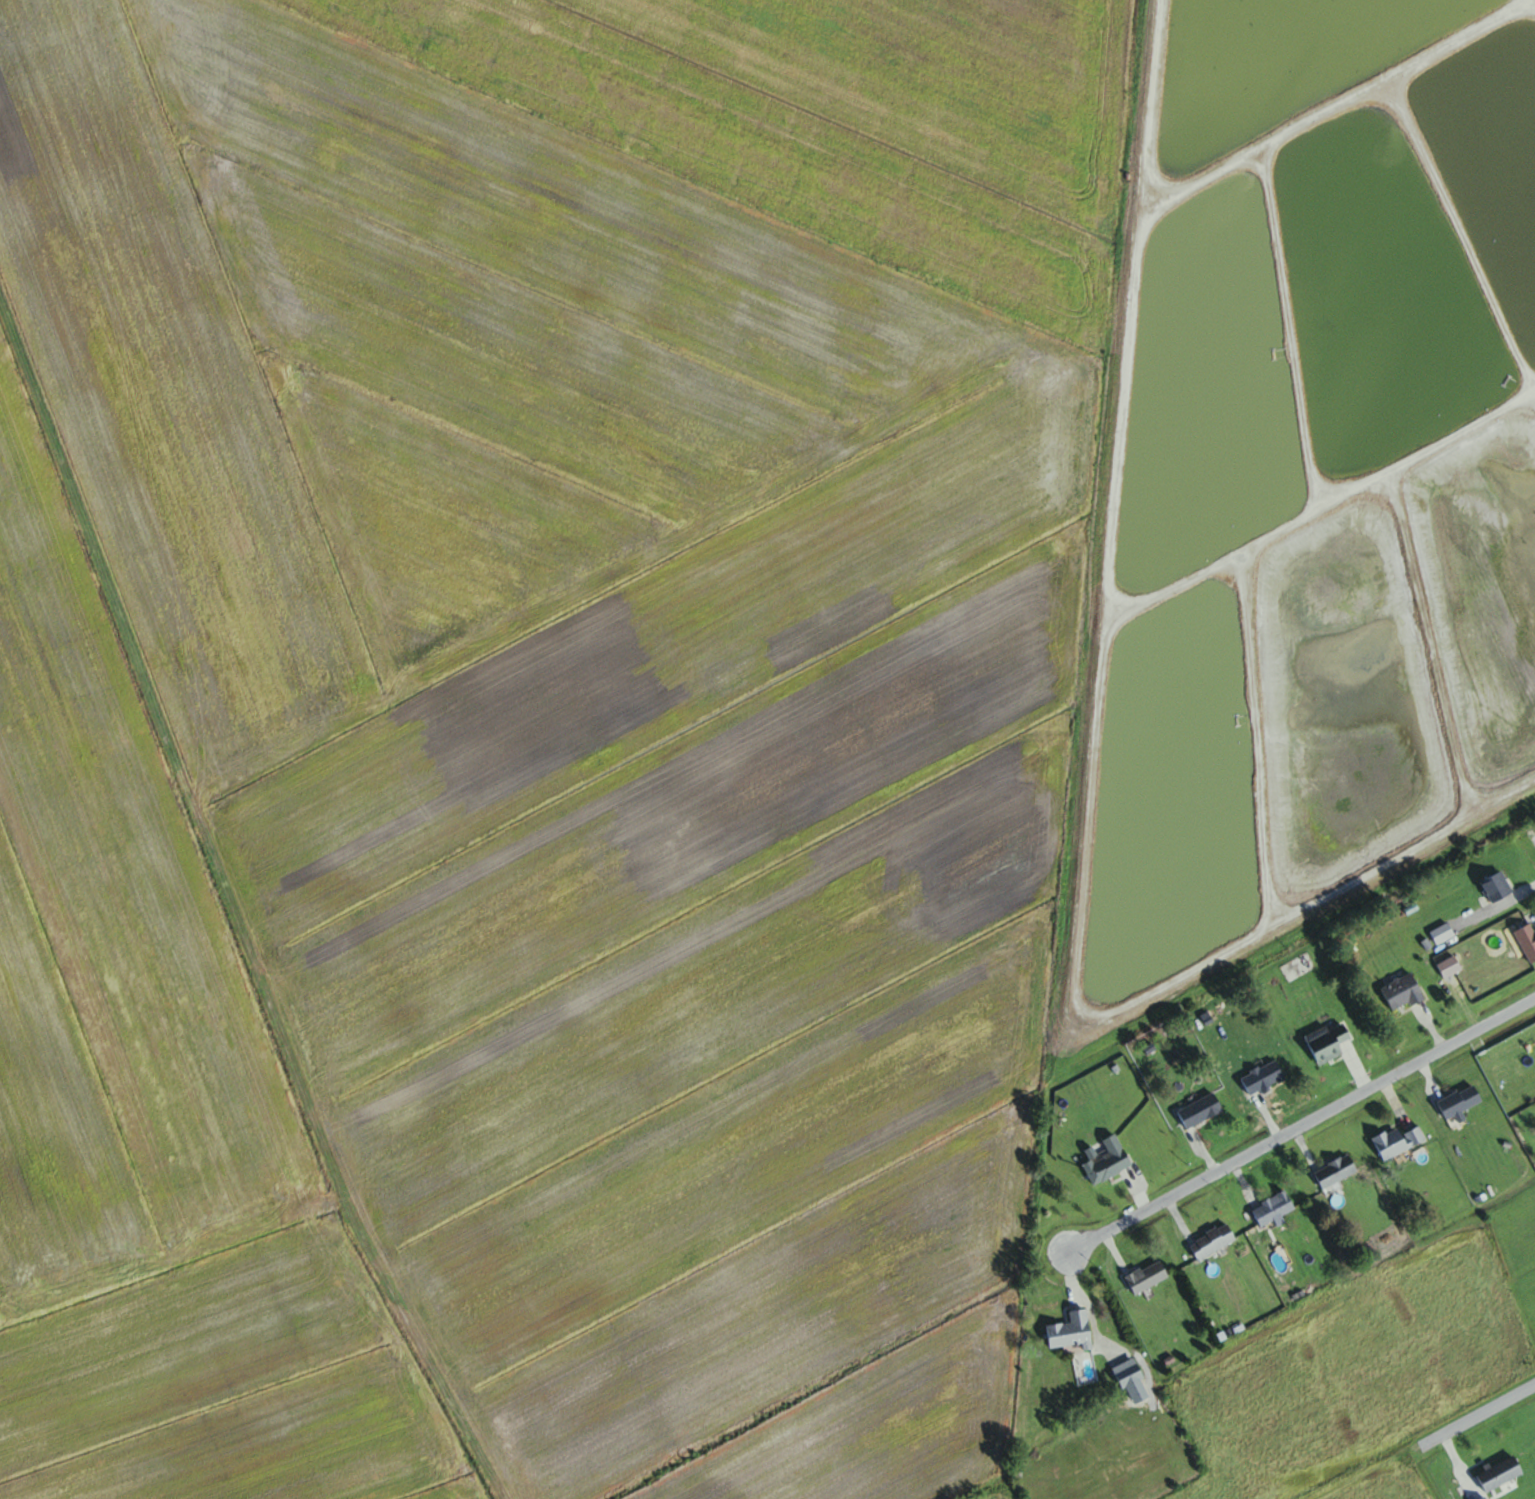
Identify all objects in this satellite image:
building: (1497, 887)
road: (1528, 888)
road: (1532, 916)
building: (1528, 940)
building: (1300, 969)
building: (1402, 993)
road: (1432, 1029)
building: (1328, 1043)
road: (1358, 1072)
building: (1263, 1078)
road: (1429, 1079)
road: (1393, 1101)
building: (1460, 1102)
building: (1201, 1110)
road: (1269, 1120)
road: (1302, 1126)
building: (1398, 1142)
road: (1304, 1149)
road: (1204, 1153)
building: (1109, 1161)
building: (1336, 1172)
road: (1242, 1183)
road: (1137, 1192)
building: (1273, 1209)
road: (1179, 1219)
building: (1213, 1242)
road: (1113, 1251)
building: (1147, 1277)
building: (1072, 1332)
building: (1128, 1373)
road: (1448, 1431)
building: (1500, 1474)

